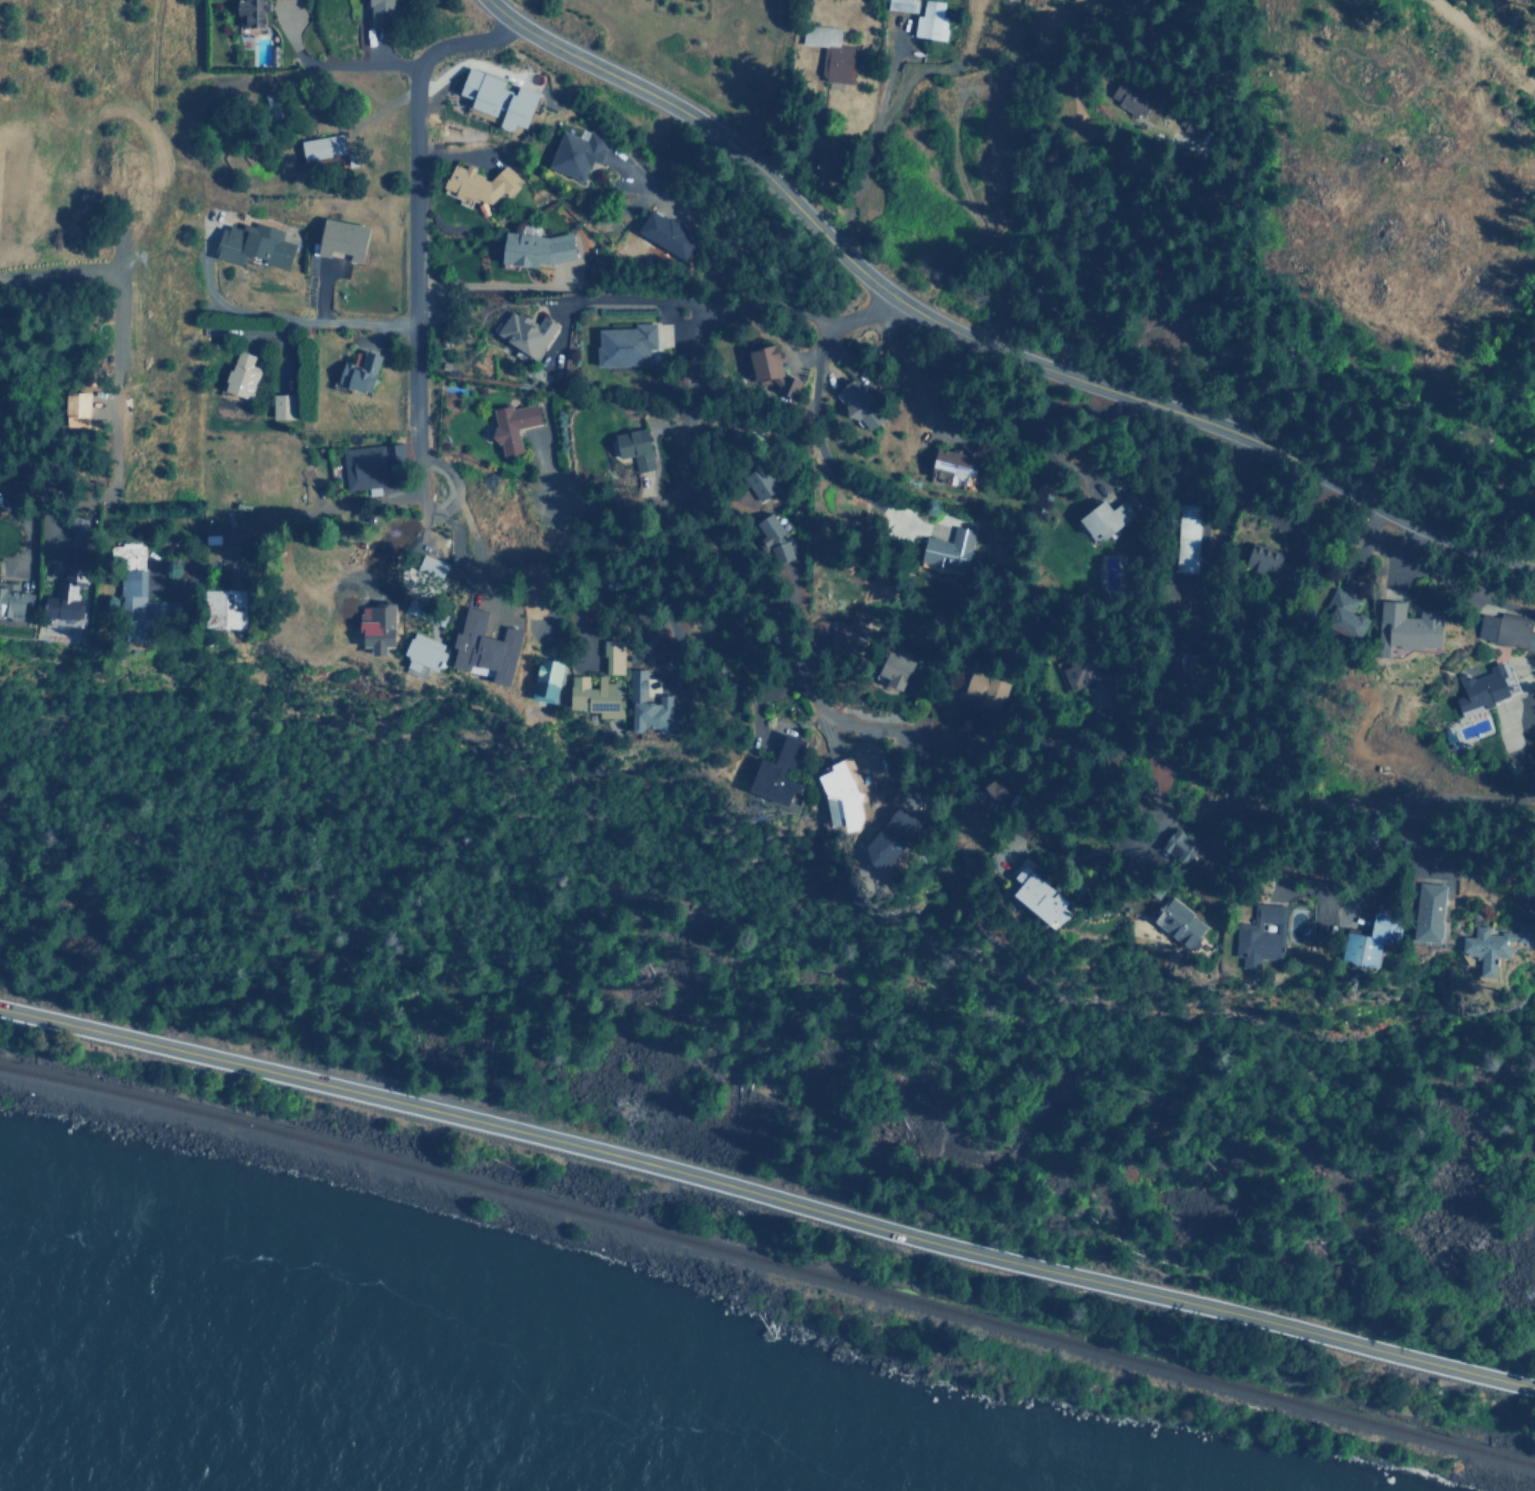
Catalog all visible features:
road: (414, 280)
road: (647, 301)
road: (273, 316)
road: (976, 339)
road: (814, 441)
road: (12, 444)
road: (613, 510)
road: (1090, 538)
road: (717, 546)
road: (1381, 827)
road: (768, 1195)
railway: (769, 1262)

